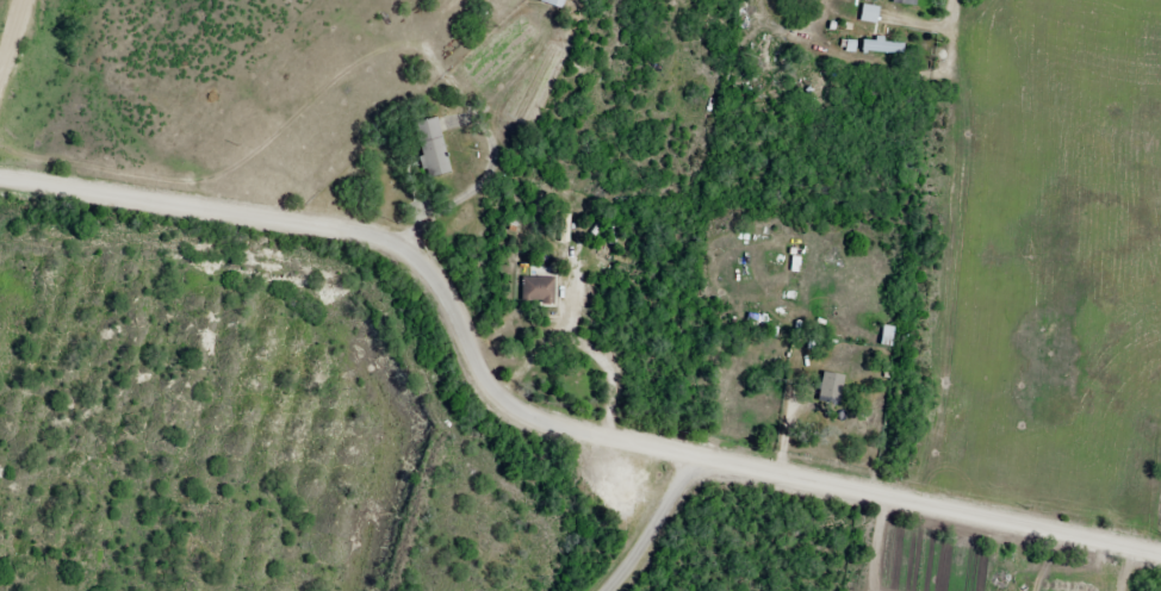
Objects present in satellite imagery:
building: (553, 1)
road: (967, 70)
road: (162, 200)
road: (482, 372)
road: (927, 502)
road: (654, 525)

